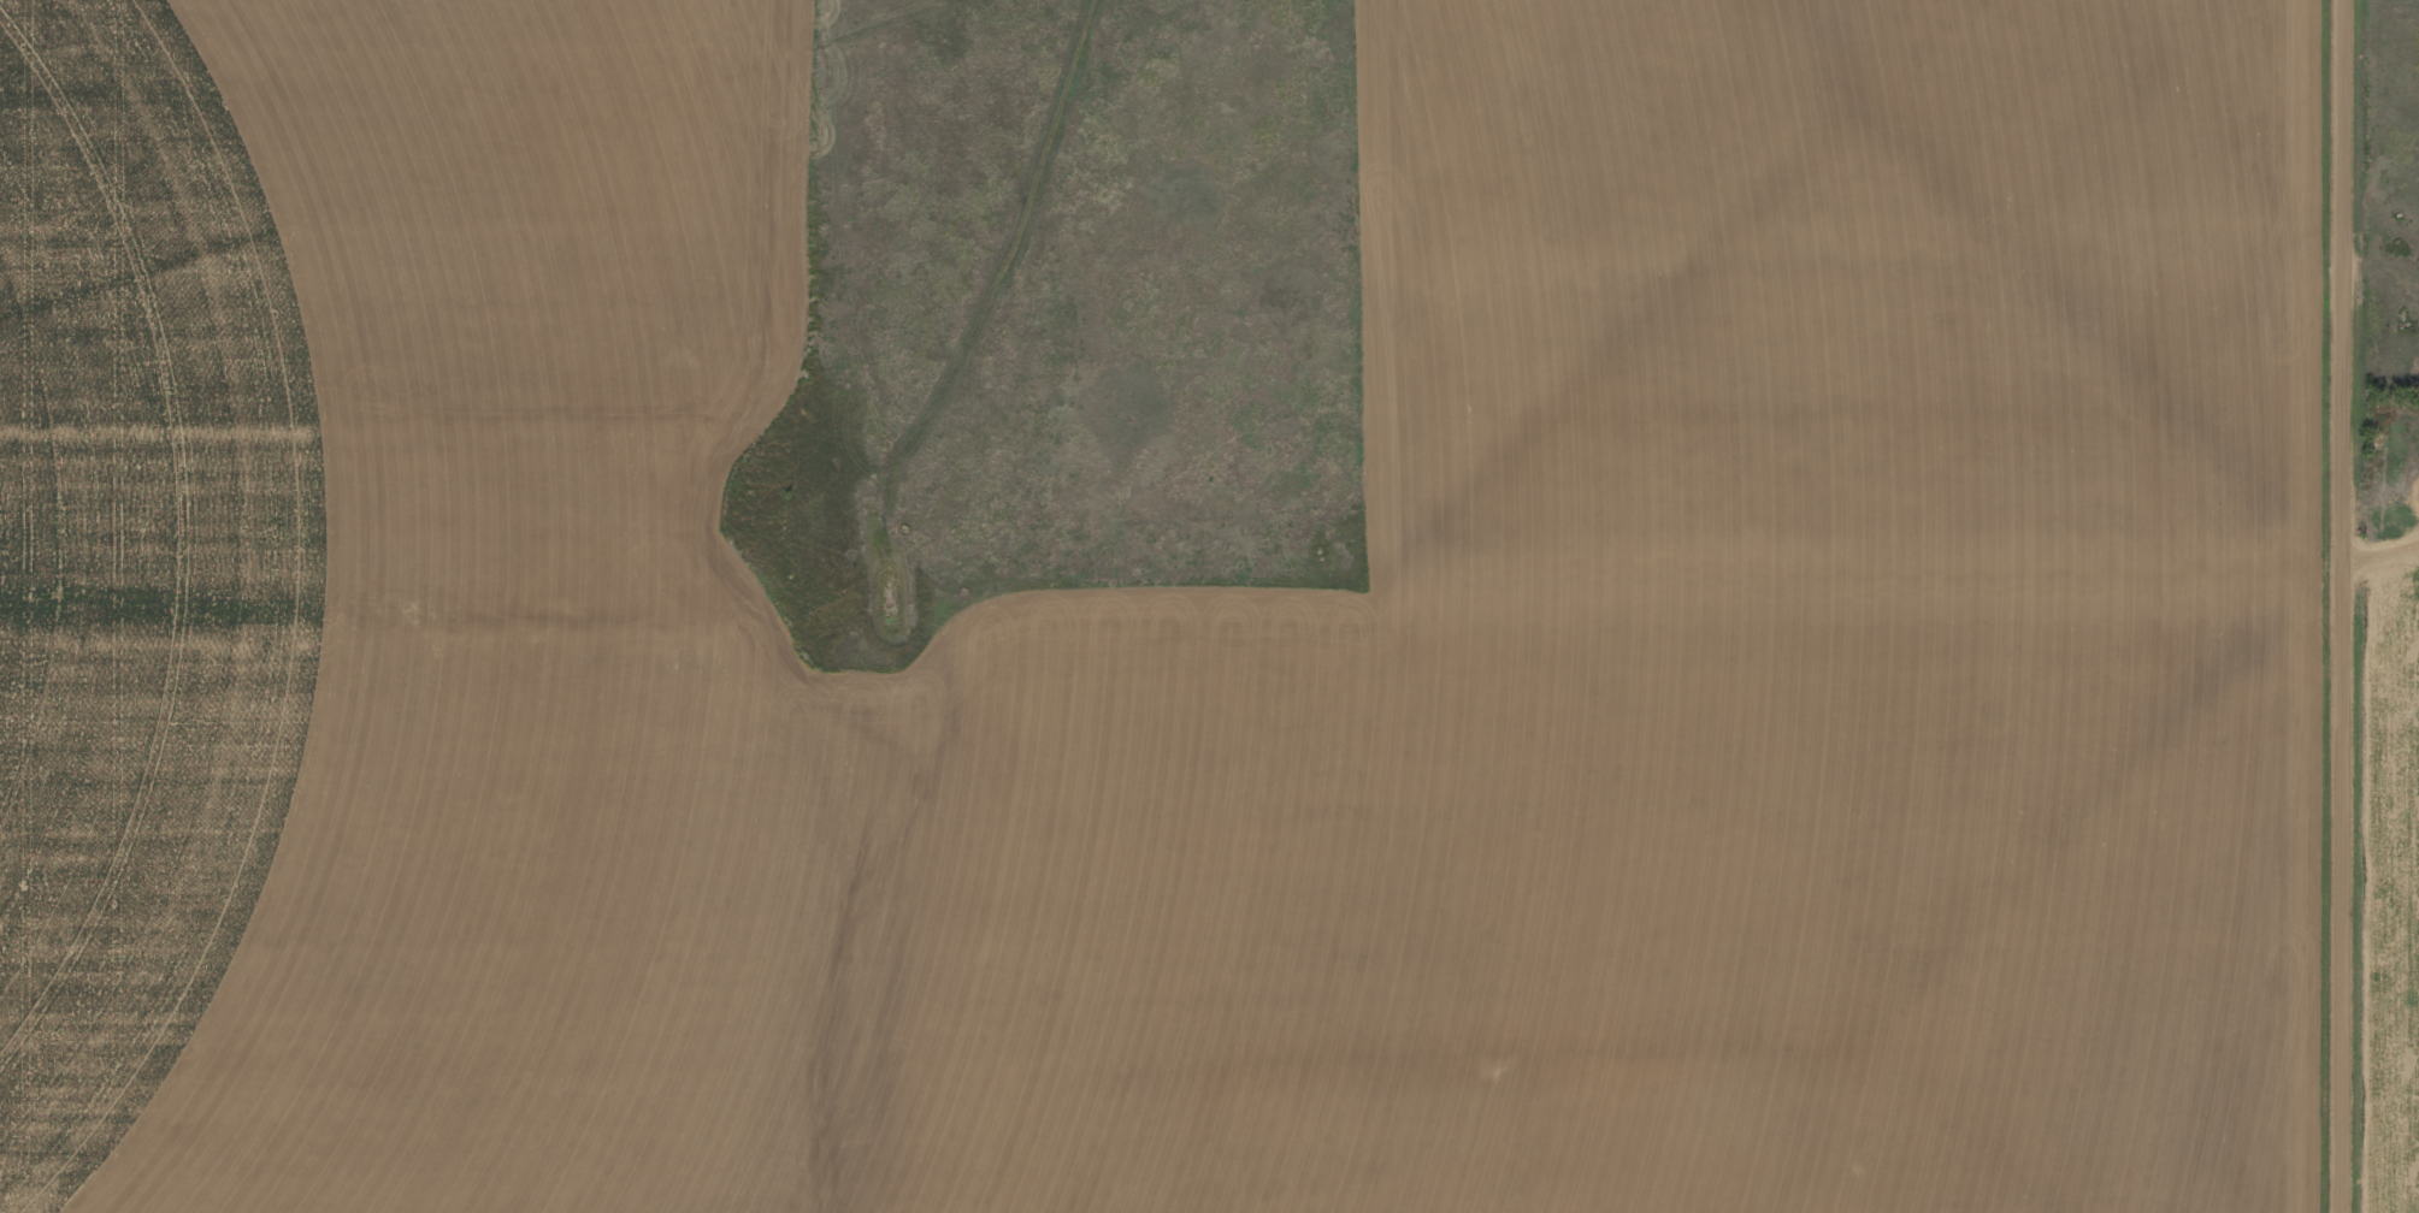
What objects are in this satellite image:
road: (2338, 606)

